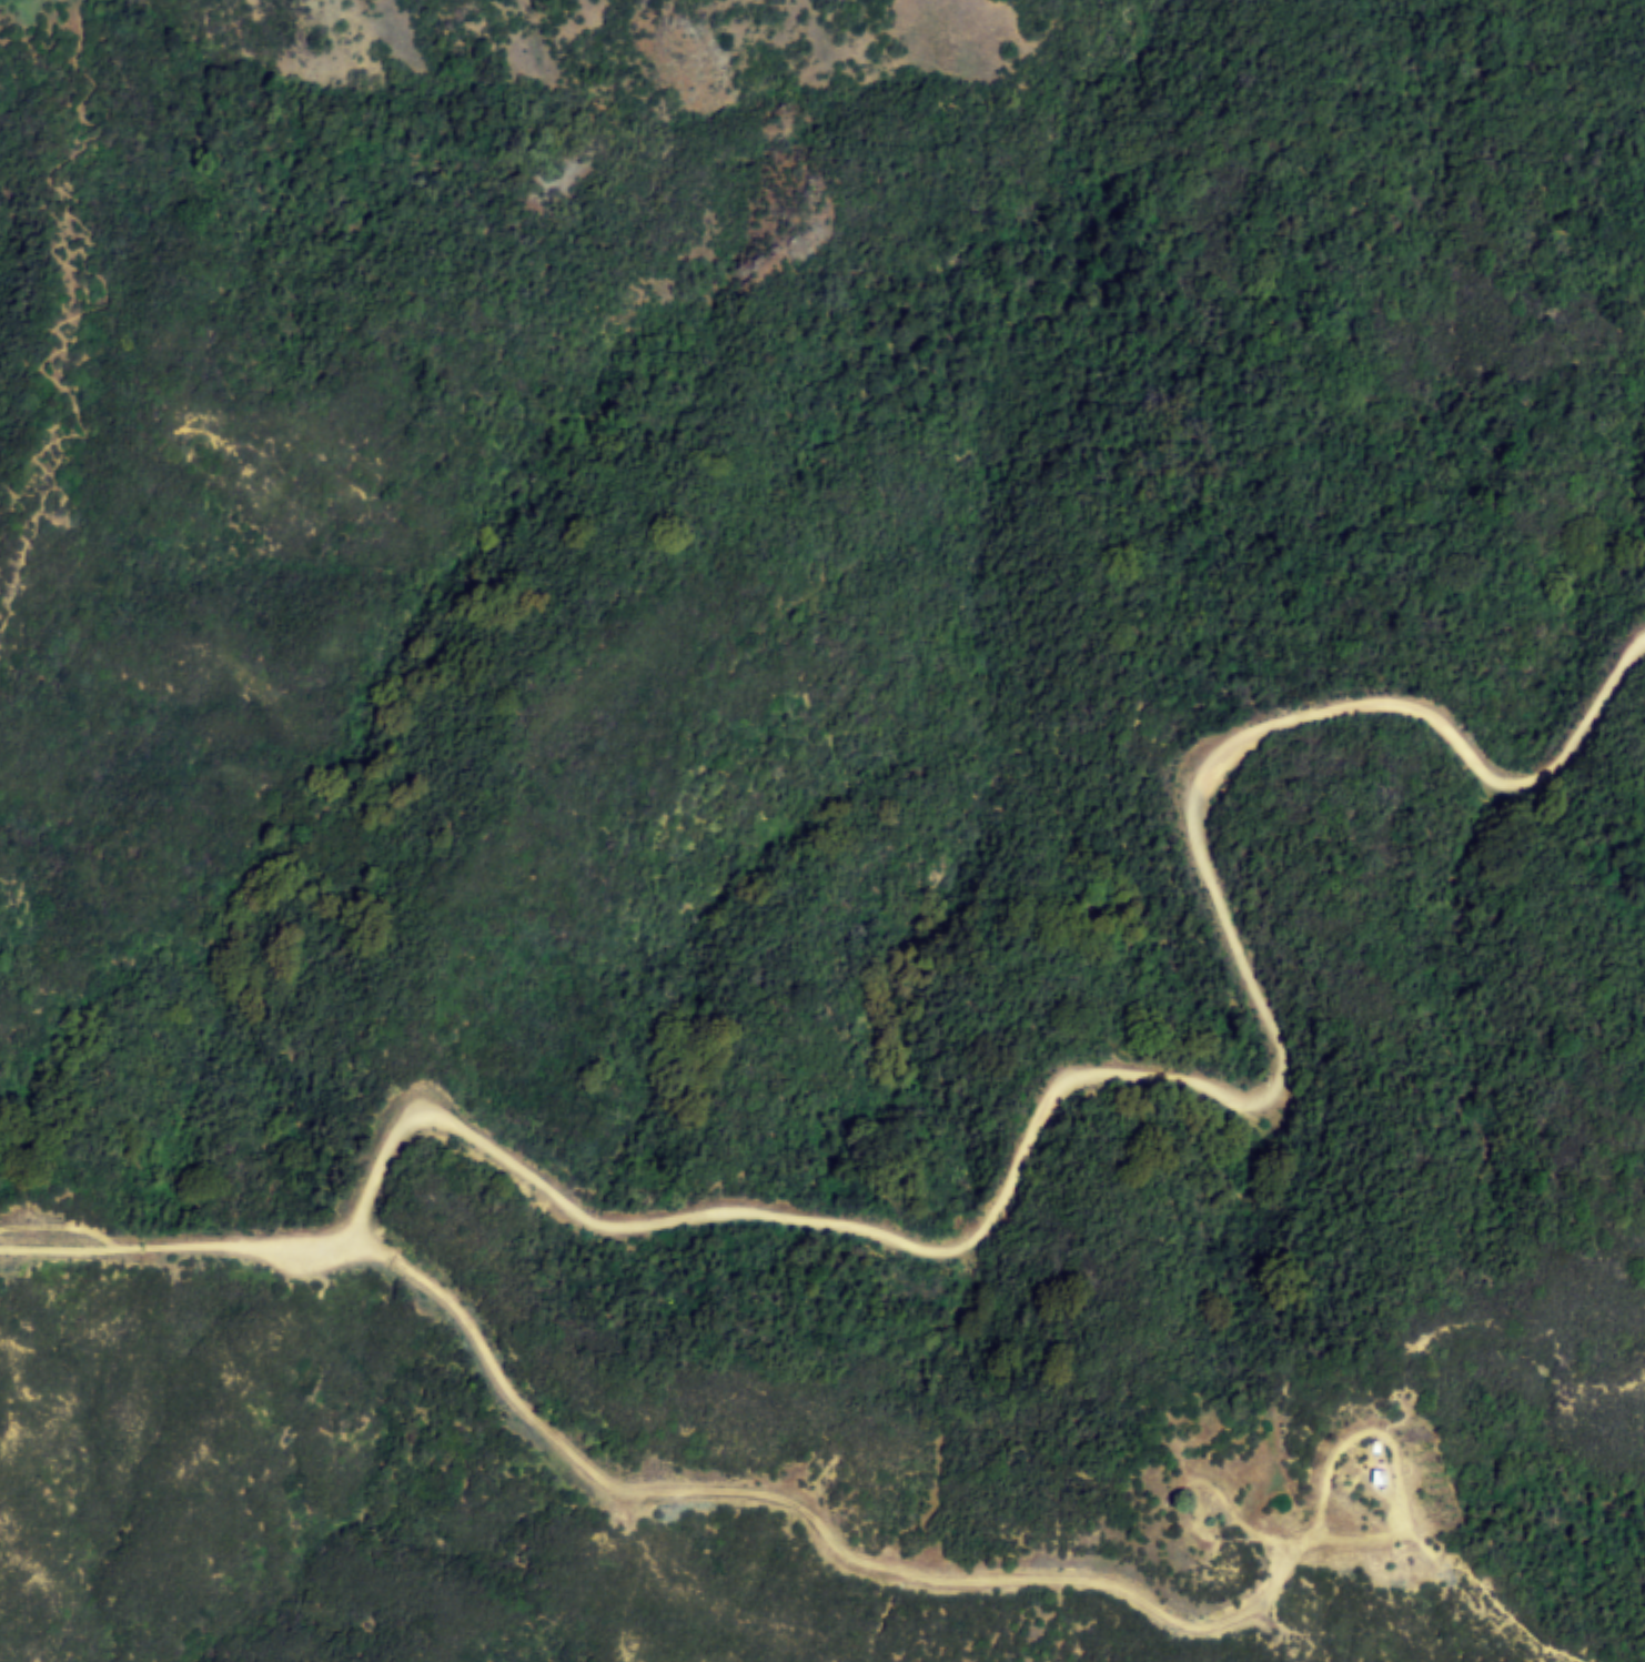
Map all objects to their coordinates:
road: (88, 312)
road: (1170, 1079)
road: (61, 1228)
road: (184, 1248)
building: (1374, 1446)
building: (1377, 1474)
building: (1373, 1480)
road: (957, 1582)
road: (1491, 1595)

